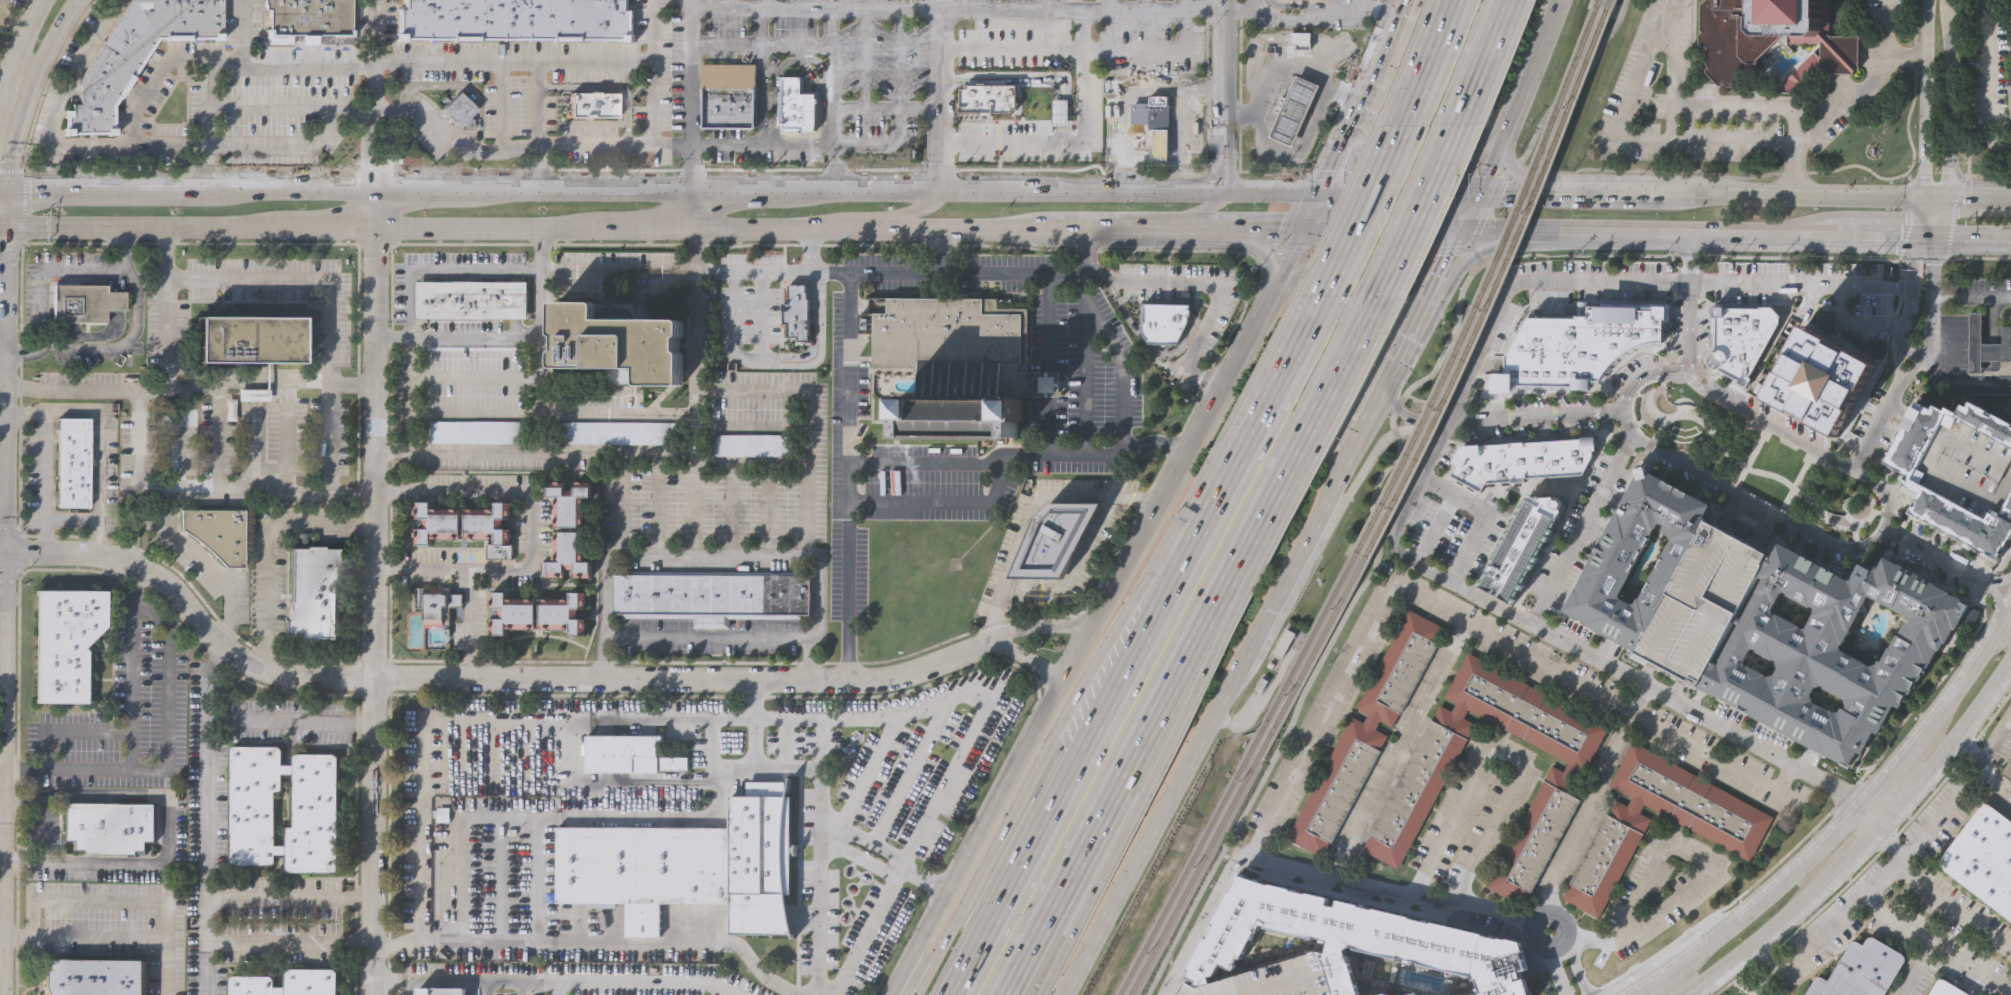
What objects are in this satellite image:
road: (1, 3)
building: (1300, 3)
road: (730, 4)
road: (767, 4)
road: (1255, 4)
road: (1114, 5)
road: (1149, 5)
road: (1451, 7)
road: (1452, 7)
road: (934, 10)
road: (1399, 15)
road: (1308, 17)
building: (304, 19)
building: (516, 19)
building: (1786, 21)
road: (13, 25)
building: (1302, 37)
building: (1728, 39)
road: (1887, 42)
road: (19, 45)
road: (1454, 45)
road: (1011, 46)
road: (763, 47)
road: (1464, 47)
road: (1436, 50)
building: (136, 52)
road: (1484, 52)
building: (1825, 55)
road: (1163, 58)
road: (865, 60)
road: (898, 61)
road: (1277, 61)
road: (445, 65)
road: (1375, 69)
road: (651, 73)
road: (760, 77)
road: (208, 78)
road: (1025, 78)
road: (1988, 80)
road: (153, 87)
road: (1966, 87)
road: (460, 88)
road: (1153, 89)
road: (31, 90)
road: (1201, 91)
road: (1916, 92)
road: (375, 95)
road: (1217, 95)
building: (986, 98)
road: (1922, 99)
road: (833, 100)
road: (1949, 100)
road: (939, 101)
road: (1845, 103)
building: (592, 104)
building: (728, 104)
road: (269, 105)
road: (1727, 105)
road: (368, 106)
building: (796, 107)
building: (459, 109)
road: (540, 109)
building: (1153, 109)
building: (1294, 109)
gas station: (1294, 109)
road: (502, 110)
road: (885, 112)
building: (1049, 115)
building: (607, 116)
road: (1084, 126)
road: (1629, 139)
road: (438, 141)
road: (958, 141)
road: (693, 144)
road: (879, 145)
building: (1158, 145)
road: (616, 146)
road: (129, 149)
road: (1340, 149)
road: (509, 155)
road: (1295, 155)
road: (1423, 163)
road: (1513, 168)
road: (540, 173)
road: (1989, 175)
road: (1731, 176)
road: (1477, 185)
road: (693, 187)
road: (1960, 188)
road: (4, 189)
traffic signals: (32, 189)
road: (96, 189)
road: (278, 189)
road: (415, 190)
traffic signals: (1322, 190)
road: (1398, 190)
road: (576, 191)
road: (1129, 191)
traffic signals: (1475, 191)
road: (739, 192)
road: (1513, 192)
road: (808, 193)
road: (885, 193)
road: (1619, 193)
road: (1804, 198)
traffic signals: (1922, 200)
road: (1933, 200)
traffic signals: (1945, 201)
road: (1978, 201)
road: (1398, 202)
road: (1370, 203)
road: (9, 208)
road: (1202, 208)
road: (1313, 209)
road: (1384, 210)
road: (1415, 210)
road: (876, 212)
road: (1921, 218)
road: (1941, 219)
road: (347, 227)
road: (755, 227)
road: (1059, 227)
road: (1380, 228)
traffic signals: (1457, 228)
road: (1504, 228)
traffic signals: (1304, 229)
road: (1688, 229)
road: (1872, 234)
traffic signals: (1920, 236)
road: (1929, 236)
traffic signals: (1938, 237)
road: (1974, 238)
road: (1298, 240)
road: (1374, 241)
road: (1903, 242)
traffic signals: (8, 249)
road: (126, 250)
road: (813, 250)
road: (1753, 256)
road: (1979, 257)
road: (1897, 259)
road: (1267, 267)
road: (872, 273)
road: (1454, 275)
road: (1048, 280)
road: (322, 281)
railway: (1488, 283)
road: (1712, 283)
railway: (1497, 284)
road: (1218, 287)
road: (1271, 293)
road: (1971, 295)
building: (471, 299)
building: (85, 302)
road: (1906, 306)
road: (38, 311)
building: (796, 312)
road: (1931, 312)
building: (1163, 320)
road: (132, 323)
road: (1851, 325)
road: (458, 335)
road: (412, 338)
building: (1739, 338)
building: (245, 339)
road: (766, 340)
building: (619, 343)
building: (1985, 344)
building: (1576, 348)
building: (959, 349)
road: (776, 353)
road: (1687, 360)
road: (1234, 362)
road: (1084, 365)
road: (1123, 375)
road: (1957, 378)
building: (1823, 379)
road: (1047, 384)
road: (771, 385)
road: (174, 388)
road: (694, 392)
road: (1270, 393)
road: (1638, 394)
building: (252, 395)
road: (1371, 399)
road: (69, 410)
road: (24, 411)
road: (1901, 411)
road: (546, 412)
road: (1686, 415)
road: (1495, 420)
road: (1641, 420)
building: (961, 421)
road: (1879, 423)
road: (1926, 423)
road: (1769, 424)
building: (478, 429)
building: (618, 430)
road: (805, 433)
road: (285, 437)
road: (1302, 438)
building: (754, 443)
road: (459, 451)
road: (1088, 457)
road: (1751, 458)
building: (1521, 460)
building: (73, 462)
road: (948, 463)
parking lot: (1969, 465)
road: (1771, 474)
road: (1359, 475)
road: (848, 476)
road: (1796, 481)
building: (1913, 481)
road: (331, 485)
road: (1539, 486)
road: (1375, 487)
road: (1327, 491)
road: (296, 492)
road: (1883, 492)
road: (191, 493)
road: (1846, 497)
road: (1759, 504)
road: (940, 505)
road: (1033, 510)
road: (1728, 510)
road: (1486, 515)
building: (468, 517)
road: (1836, 526)
road: (1760, 527)
building: (566, 529)
parking lot: (1437, 529)
road: (533, 530)
road: (1581, 530)
road: (1435, 531)
building: (215, 533)
building: (1057, 538)
road: (1855, 538)
road: (267, 545)
building: (1522, 546)
road: (185, 550)
road: (3, 552)
road: (3, 555)
traffic signals: (23, 555)
road: (1938, 556)
road: (797, 560)
road: (1123, 562)
building: (1609, 567)
road: (5, 569)
road: (1074, 582)
traffic signals: (5, 583)
road: (1992, 591)
road: (373, 592)
building: (312, 593)
building: (712, 594)
building: (1700, 603)
parking garage: (1700, 603)
building: (434, 604)
road: (1138, 606)
road: (1270, 607)
road: (1496, 608)
building: (537, 612)
road: (2005, 616)
road: (472, 623)
road: (1464, 624)
road: (1036, 625)
park: (416, 632)
road: (1994, 632)
road: (2000, 641)
building: (62, 642)
building: (1284, 645)
road: (1164, 651)
building: (1829, 652)
road: (1022, 658)
road: (810, 659)
road: (1149, 661)
road: (136, 669)
road: (1643, 672)
road: (1190, 676)
road: (477, 678)
road: (204, 681)
road: (1952, 688)
road: (1675, 689)
road: (959, 697)
road: (674, 721)
road: (755, 722)
road: (72, 732)
road: (1093, 732)
building: (1366, 732)
road: (783, 744)
road: (820, 745)
road: (1969, 748)
road: (1397, 750)
road: (703, 751)
road: (1497, 754)
building: (628, 755)
road: (1985, 758)
road: (169, 760)
road: (1886, 766)
building: (2008, 768)
building: (2008, 774)
railway: (1234, 775)
road: (906, 776)
road: (1122, 777)
railway: (1245, 777)
road: (868, 778)
road: (212, 779)
building: (1422, 780)
road: (659, 783)
building: (868, 793)
road: (1835, 805)
building: (314, 808)
road: (1866, 810)
road: (1585, 811)
road: (1941, 815)
building: (107, 826)
road: (420, 826)
road: (165, 827)
road: (536, 827)
road: (1157, 832)
building: (1734, 841)
road: (460, 843)
road: (1856, 843)
road: (1883, 843)
road: (821, 846)
road: (991, 851)
road: (1874, 855)
building: (1983, 856)
road: (1695, 858)
building: (687, 865)
road: (1789, 865)
road: (958, 866)
road: (1390, 892)
road: (1872, 893)
road: (1090, 894)
road: (291, 897)
road: (1936, 897)
road: (32, 900)
road: (1701, 912)
road: (1531, 920)
road: (1204, 921)
building: (835, 925)
road: (868, 931)
road: (16, 935)
building: (1354, 938)
road: (453, 939)
road: (1595, 939)
road: (291, 944)
road: (1686, 951)
road: (164, 966)
road: (1576, 967)
road: (1917, 967)
building: (1861, 969)
road: (1554, 973)
road: (921, 976)
building: (92, 977)
building: (1272, 980)
parking garage: (1272, 980)
building: (286, 983)
road: (452, 983)
road: (638, 983)
road: (1637, 983)
building: (1947, 988)
building: (446, 991)
parking garage: (446, 991)
building: (1385, 994)
building: (1412, 994)
road: (1678, 994)

